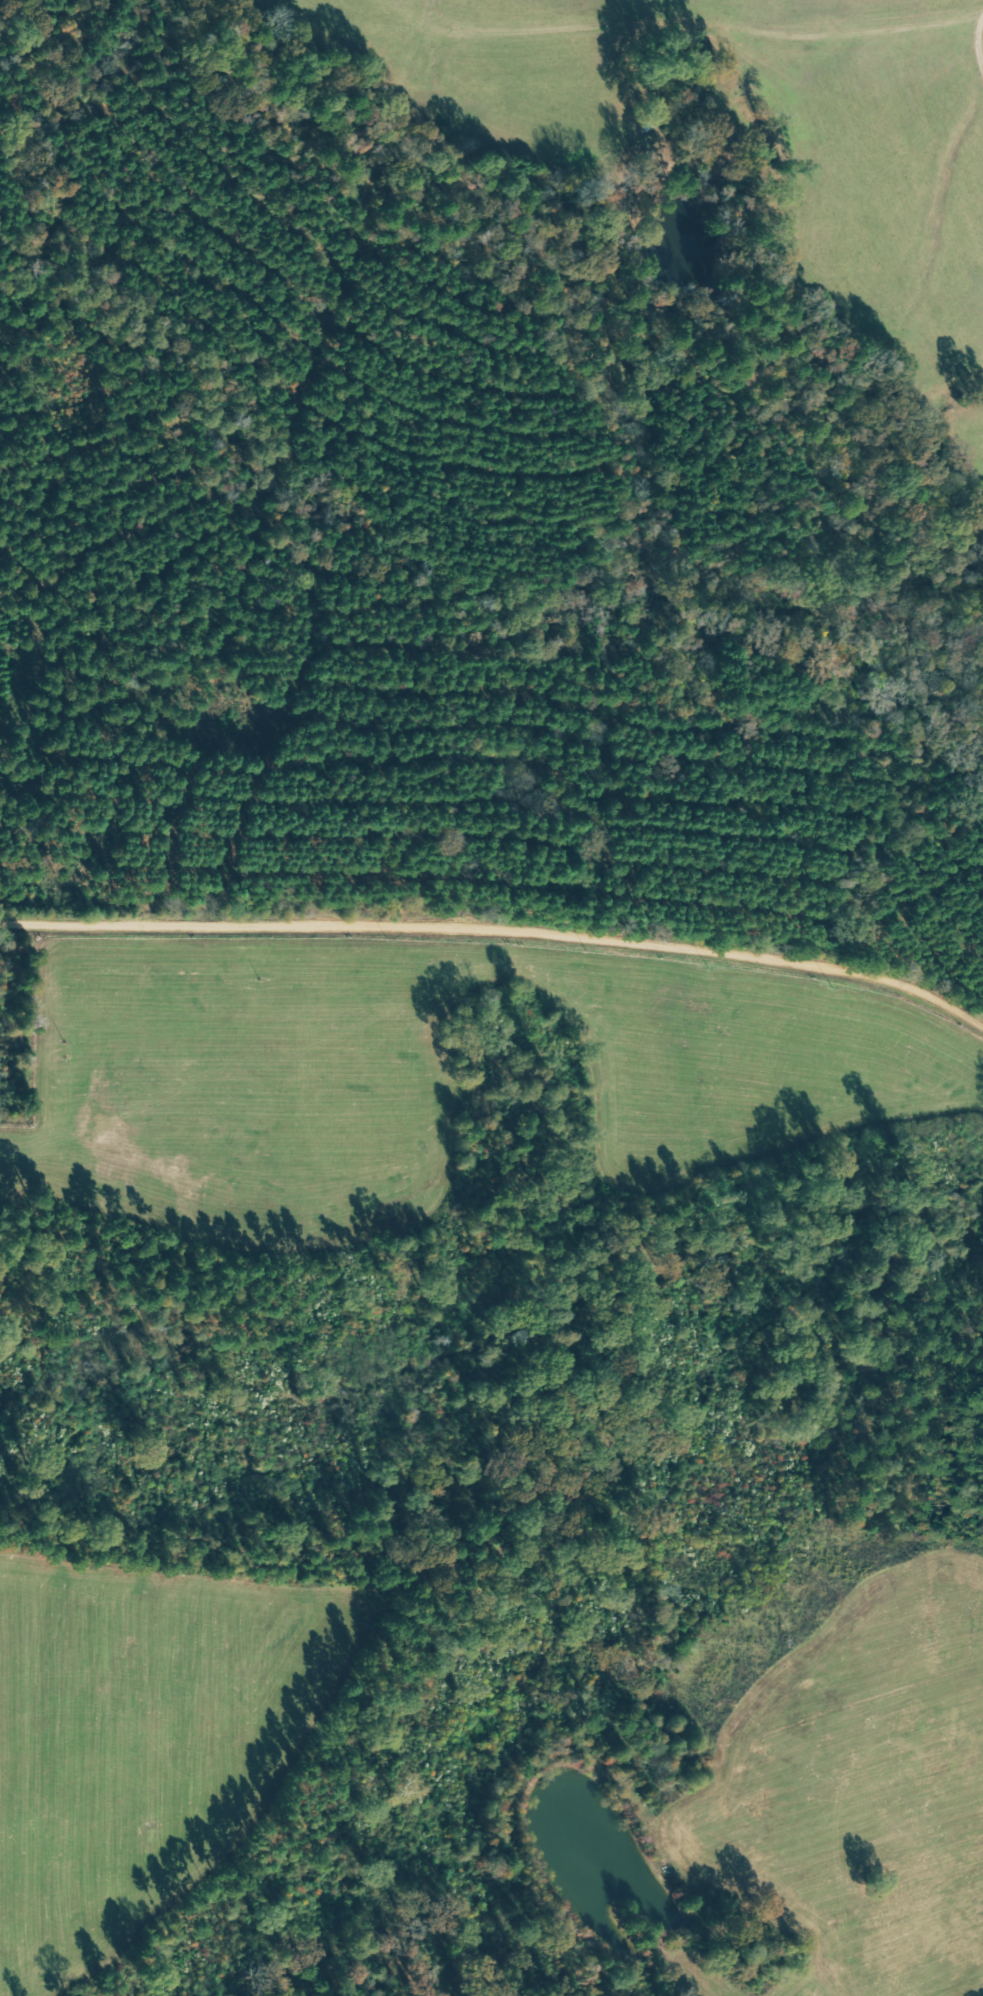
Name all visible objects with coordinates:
road: (497, 928)

